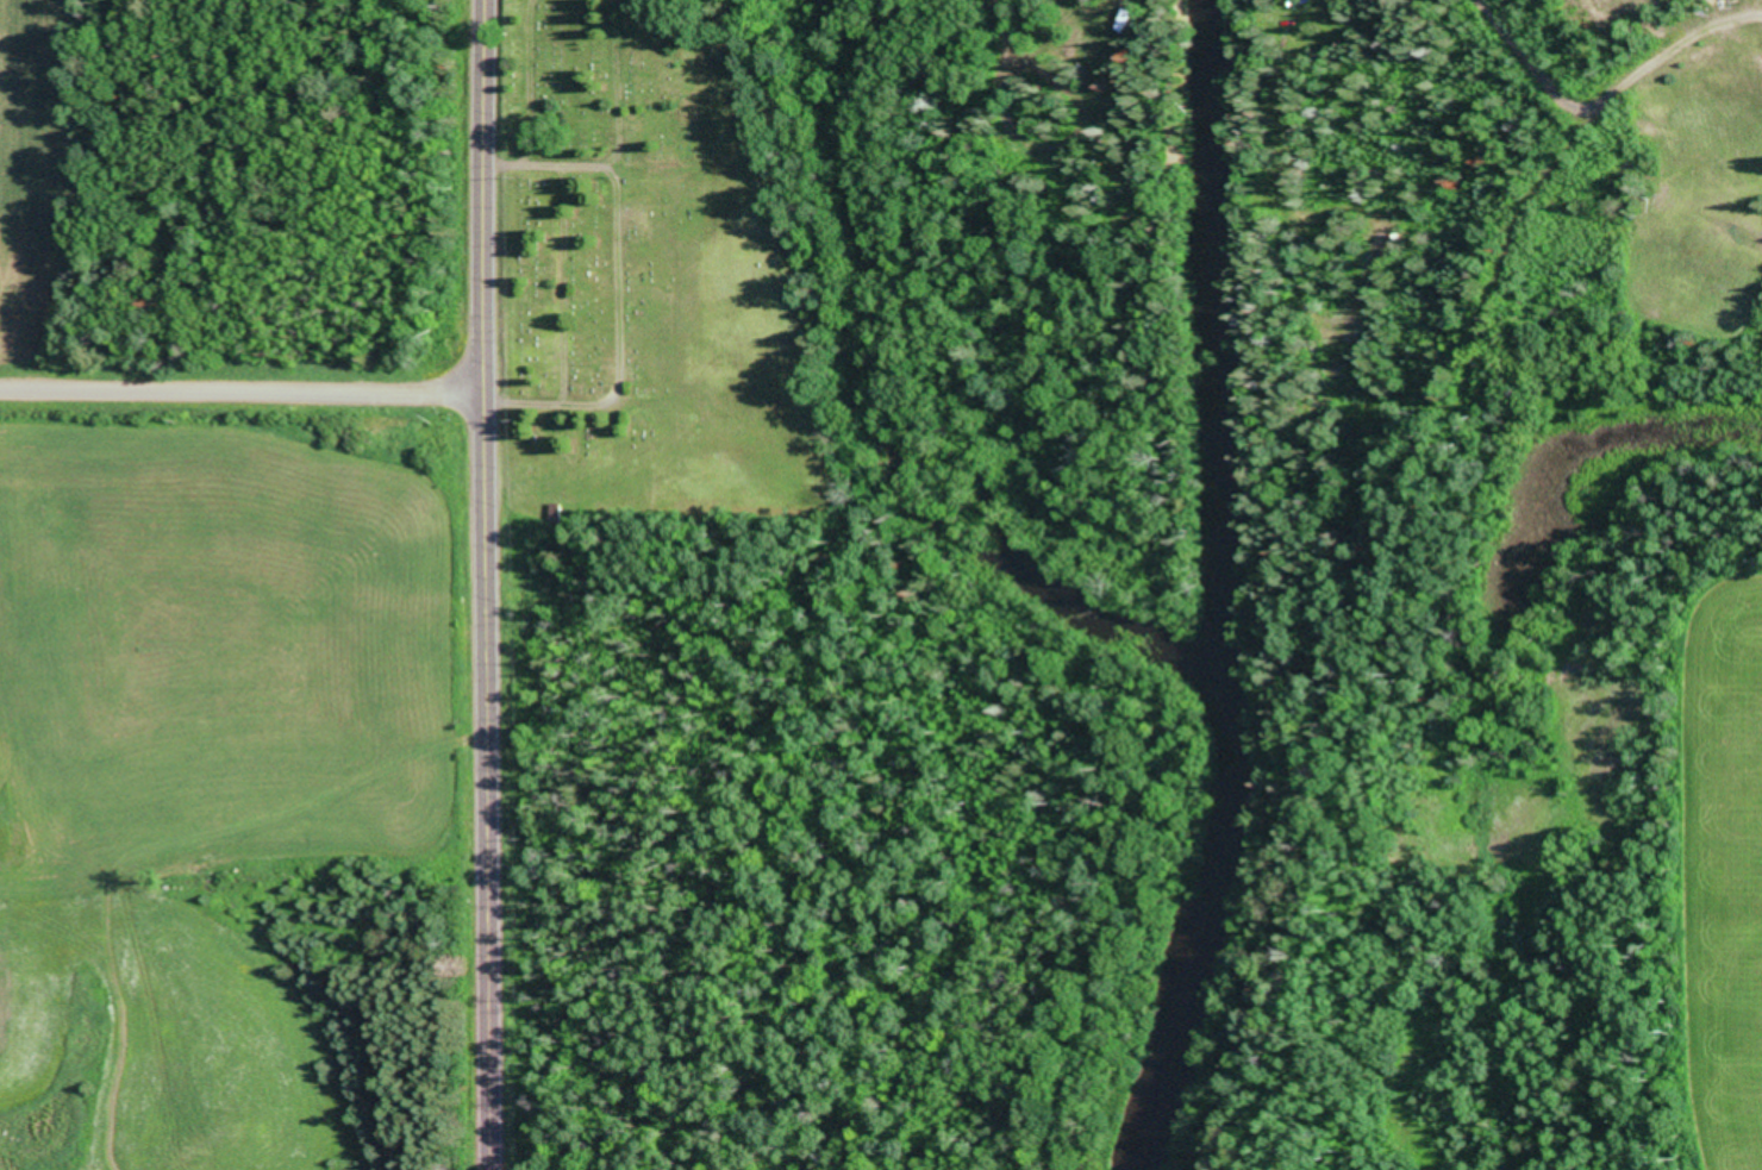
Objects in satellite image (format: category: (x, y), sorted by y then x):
road: (1566, 45)
park: (680, 295)
road: (1482, 377)
road: (240, 389)
road: (482, 584)
river: (1218, 592)

